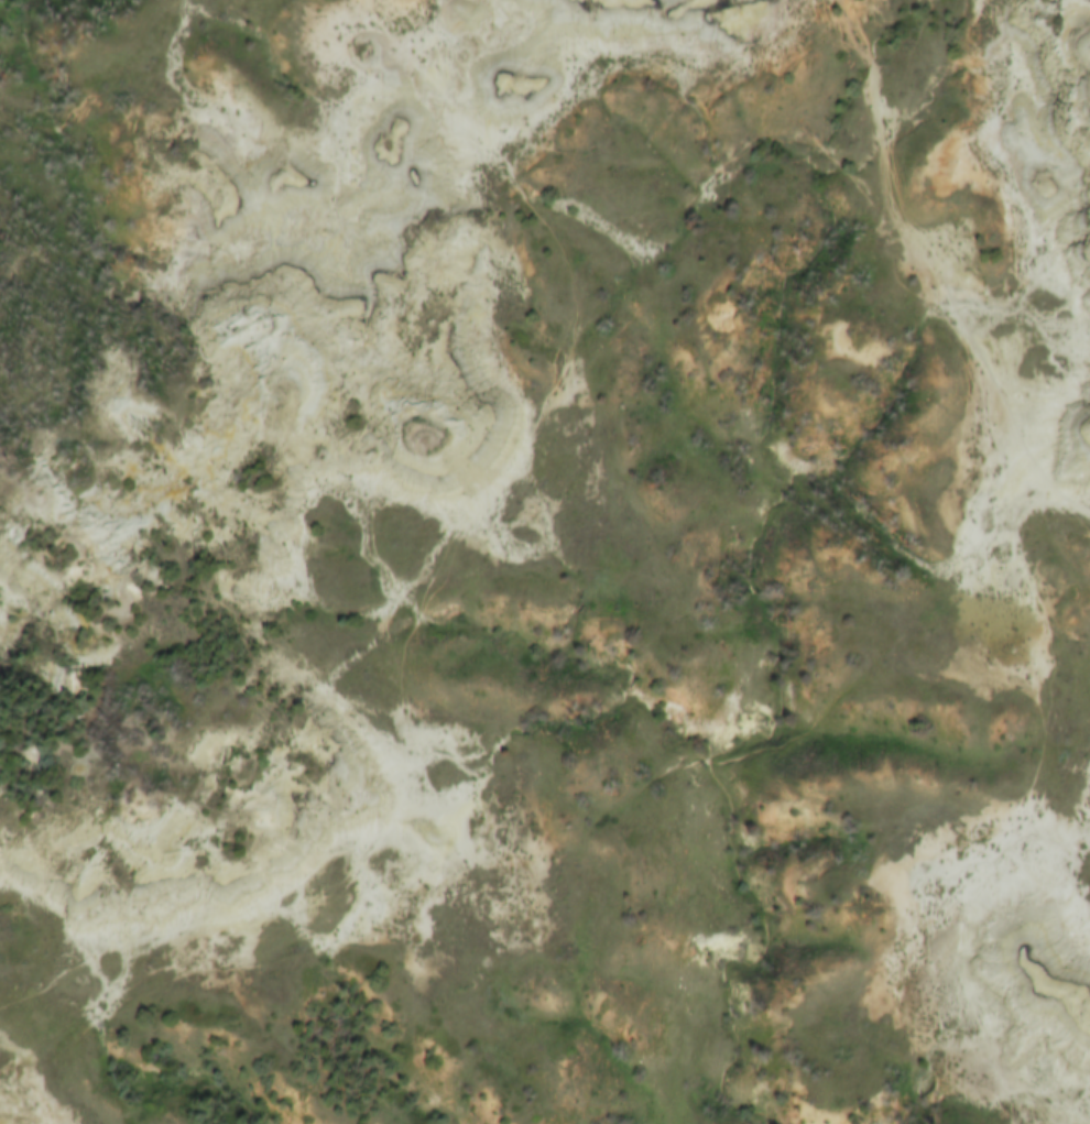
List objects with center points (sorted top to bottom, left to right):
road: (956, 271)

